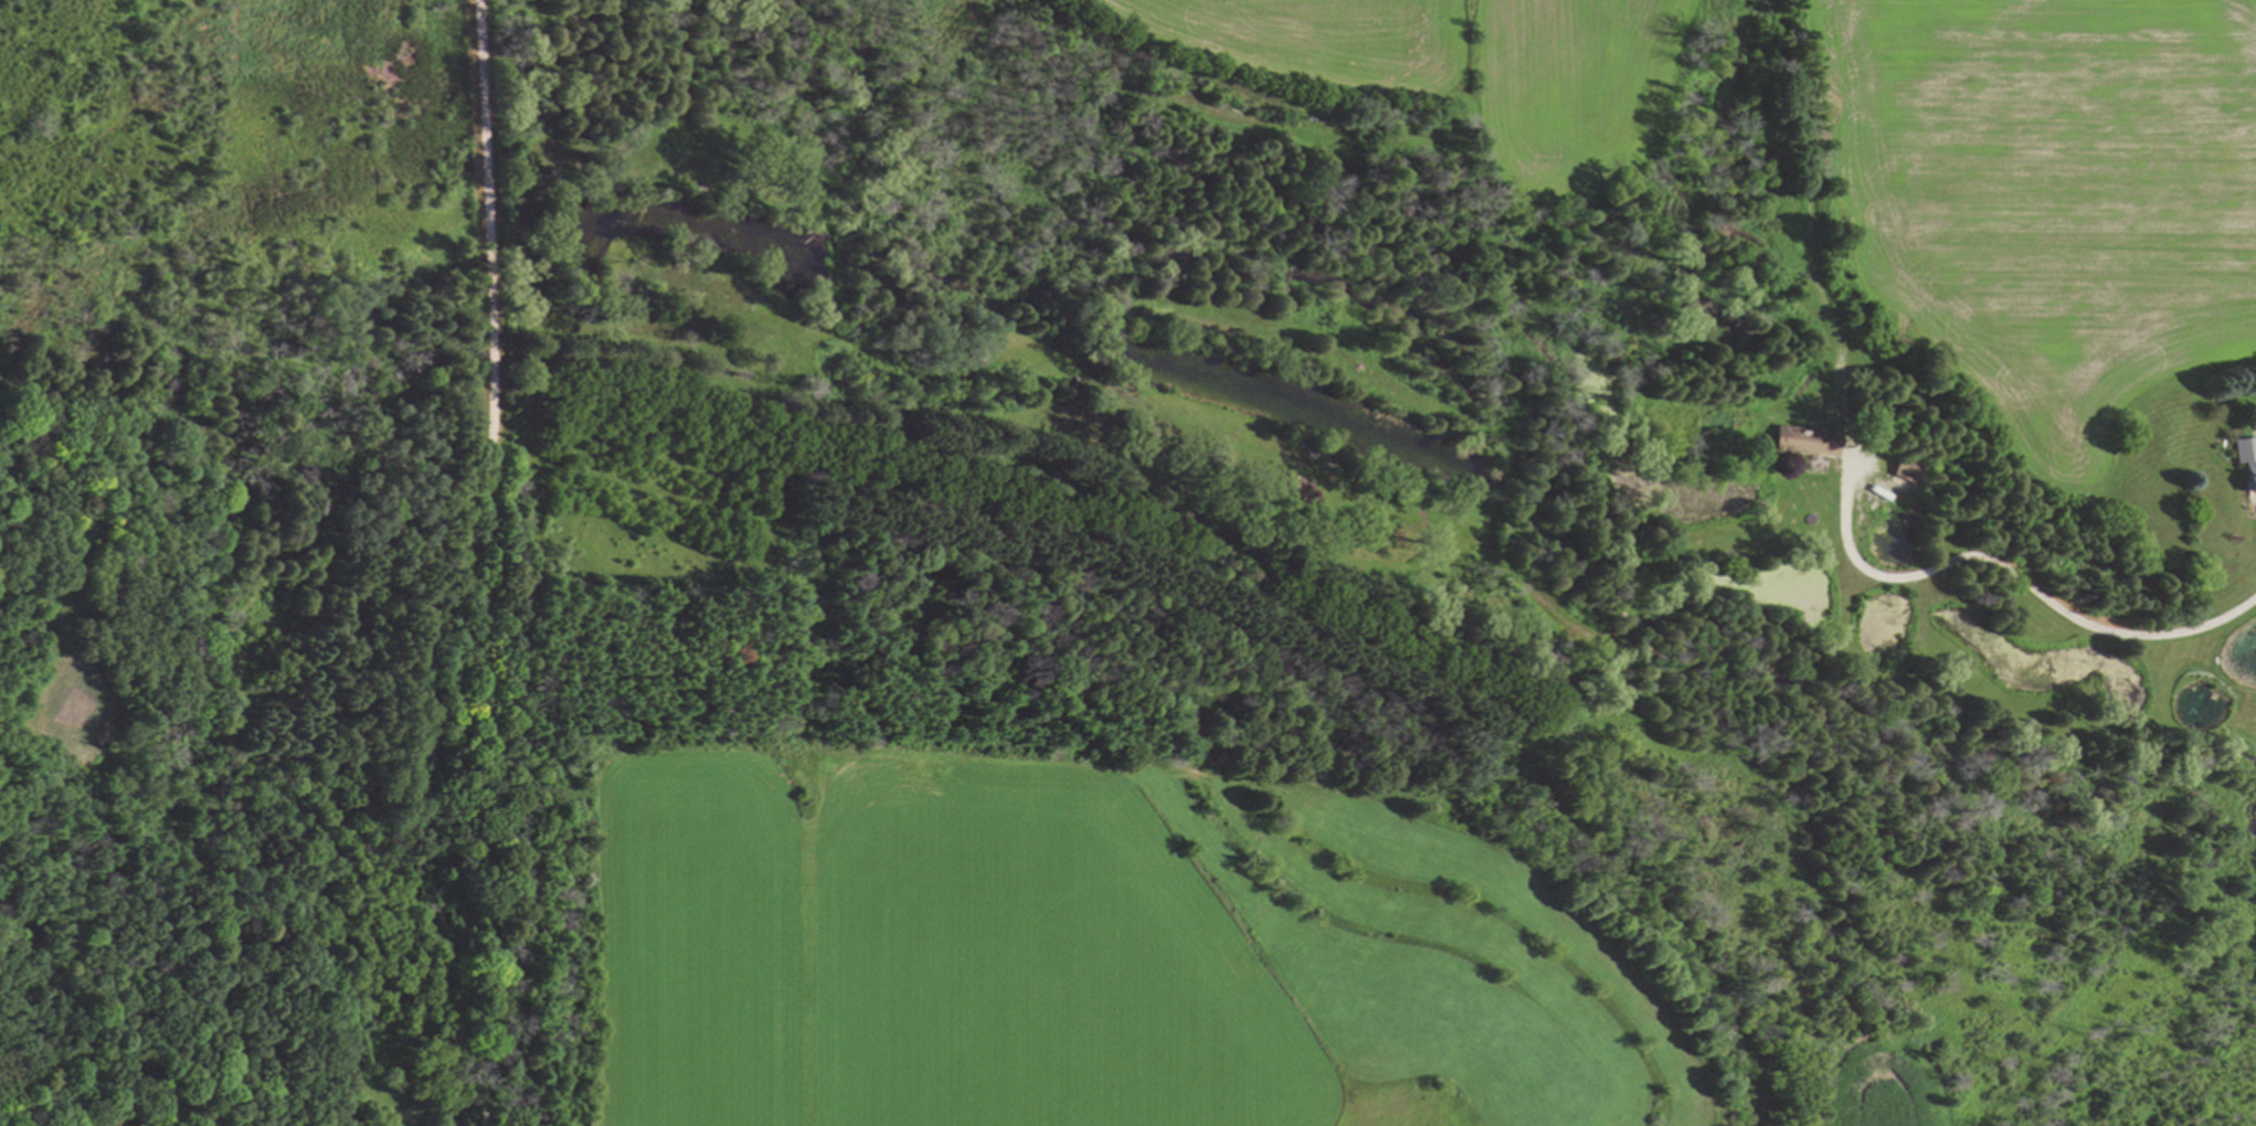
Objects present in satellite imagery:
building: (1810, 443)
building: (2245, 463)
road: (458, 570)
road: (2024, 580)

